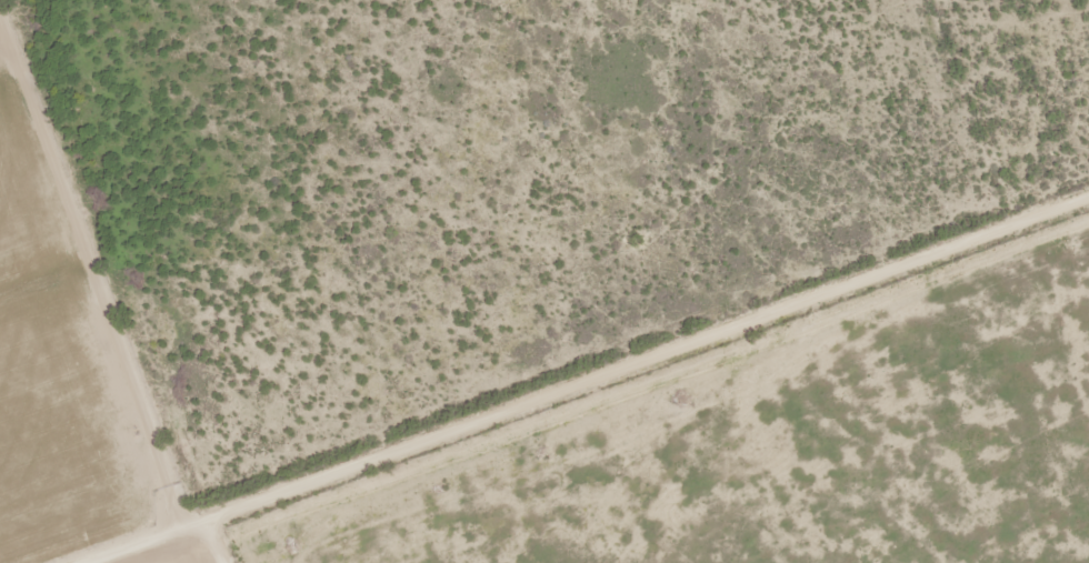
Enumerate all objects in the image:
road: (587, 382)
road: (217, 542)

